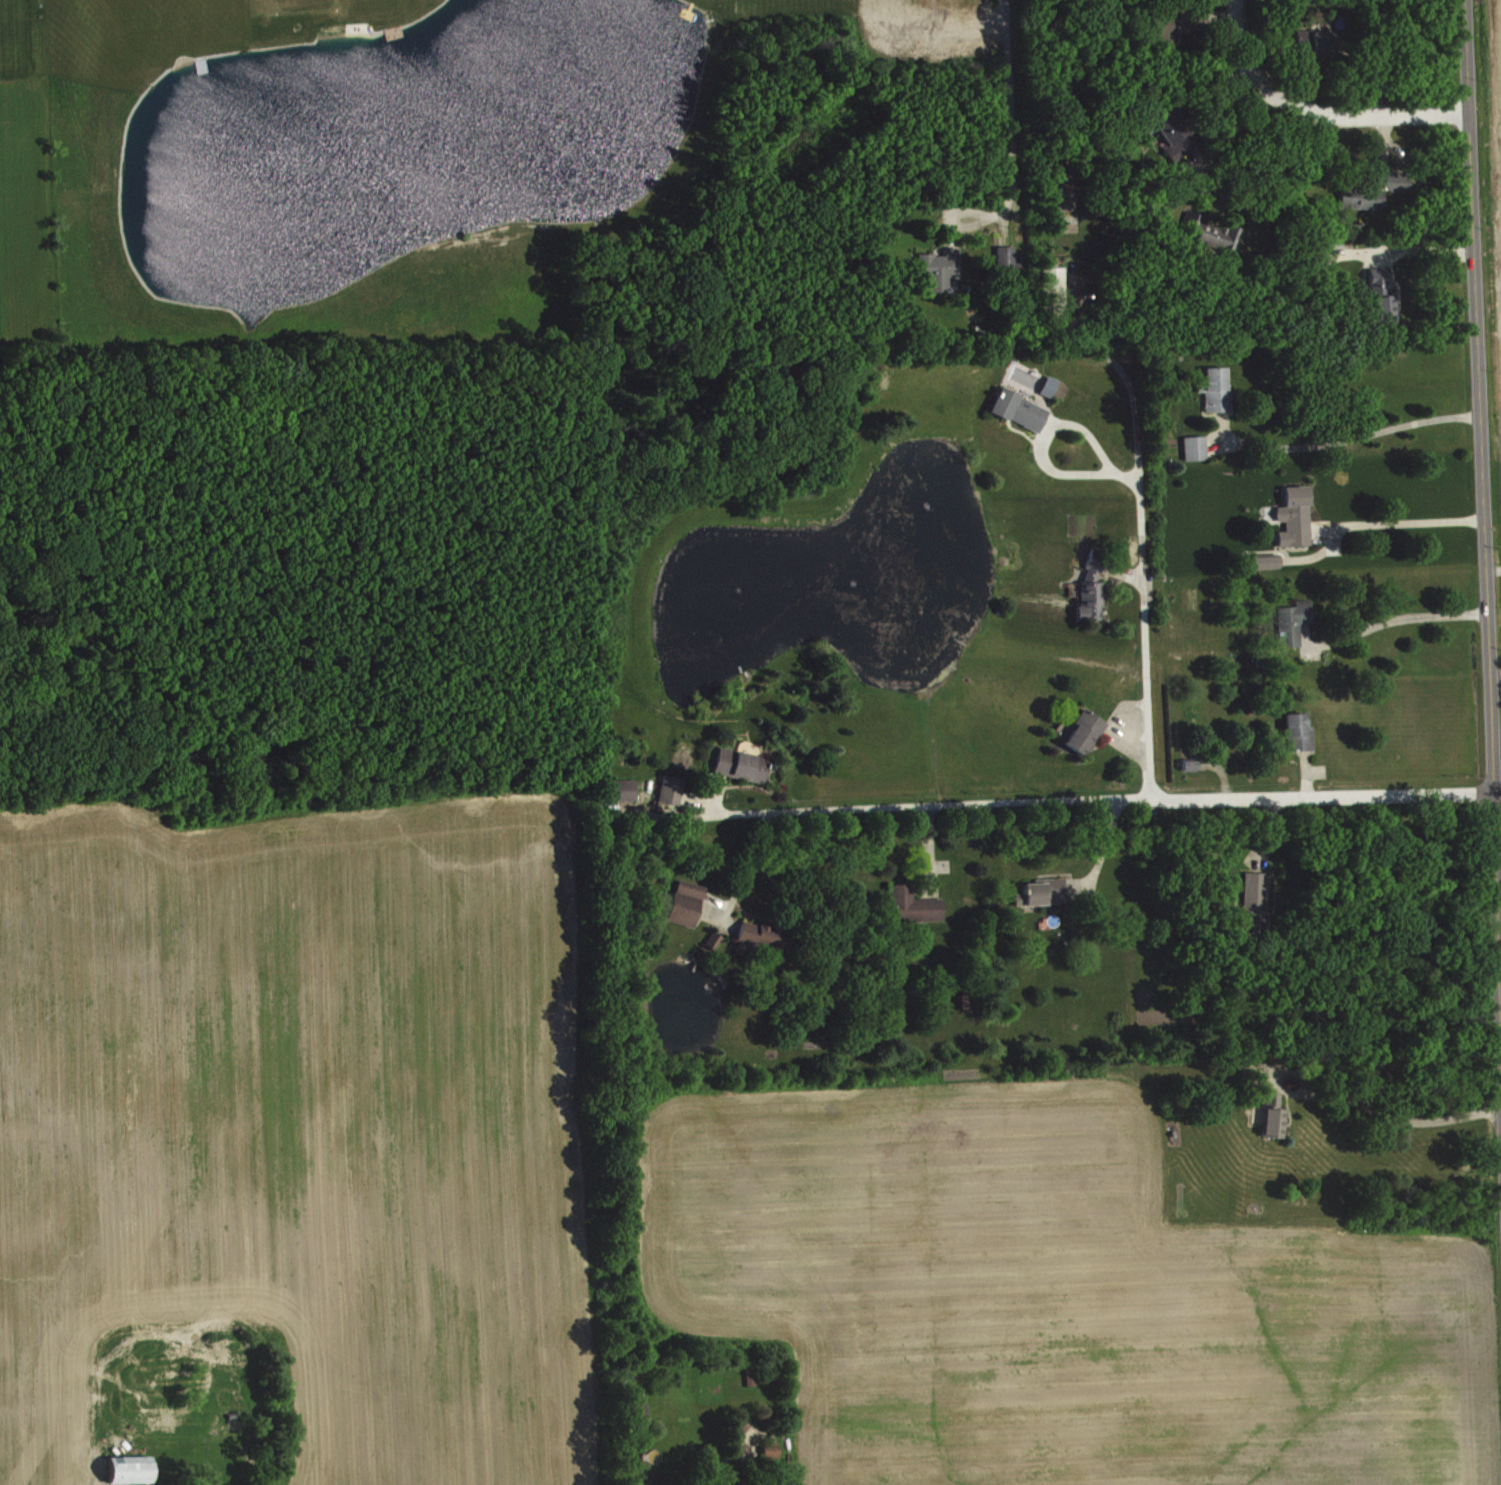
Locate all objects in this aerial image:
building: (1172, 25)
building: (1311, 42)
road: (1009, 91)
road: (1200, 95)
road: (1316, 114)
building: (1176, 131)
building: (1368, 186)
road: (1220, 189)
crop: (1489, 196)
building: (1213, 233)
building: (1009, 253)
building: (942, 269)
building: (1050, 291)
building: (1378, 296)
building: (1051, 386)
building: (1213, 387)
building: (1013, 409)
road: (1347, 437)
road: (1133, 438)
building: (1192, 446)
road: (1040, 449)
building: (1291, 517)
road: (1482, 521)
road: (1402, 522)
building: (1266, 562)
building: (1088, 589)
road: (1395, 616)
building: (1290, 622)
road: (1496, 675)
road: (1149, 691)
building: (1080, 731)
building: (1294, 732)
building: (744, 765)
building: (625, 790)
building: (674, 790)
road: (1101, 802)
road: (744, 866)
building: (1040, 890)
building: (688, 903)
building: (1257, 903)
building: (915, 905)
building: (767, 936)
building: (717, 940)
road: (1500, 1015)
building: (1235, 1075)
road: (1373, 1107)
building: (1270, 1112)
crop: (1054, 1296)
building: (754, 1378)
building: (643, 1413)
building: (133, 1469)
building: (734, 1484)

